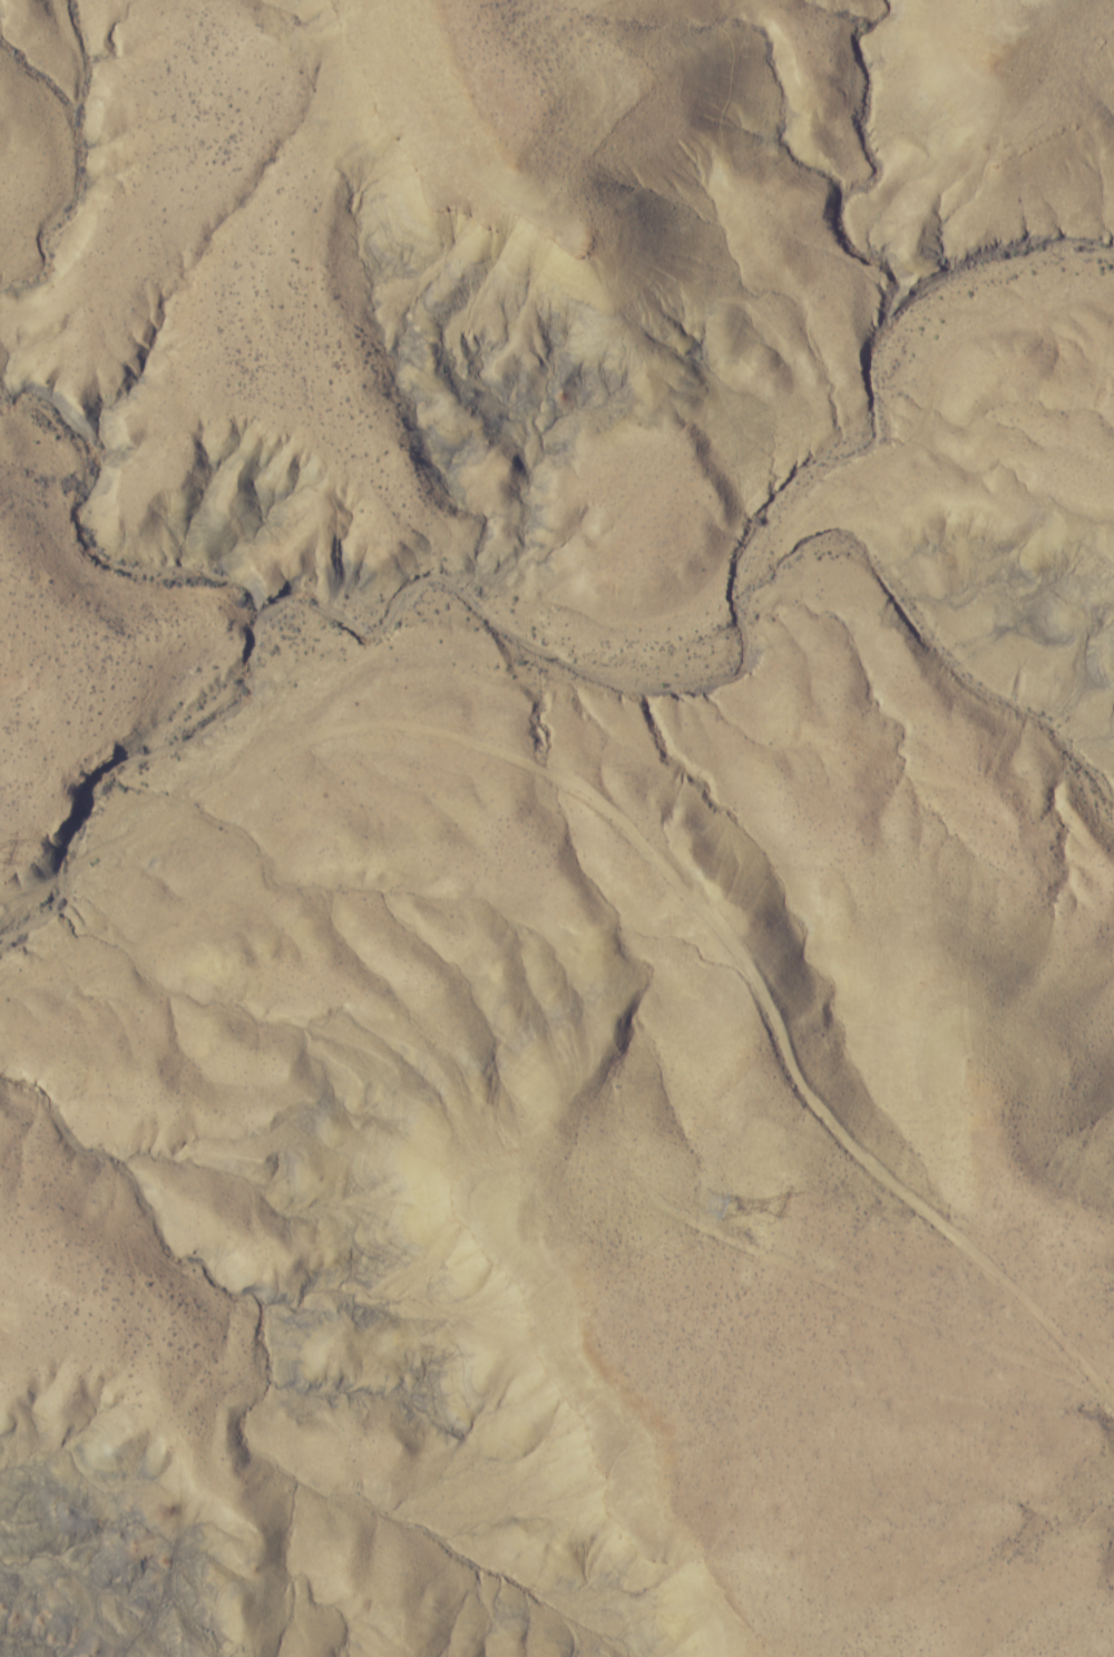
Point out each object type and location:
power tower: (715, 1198)

